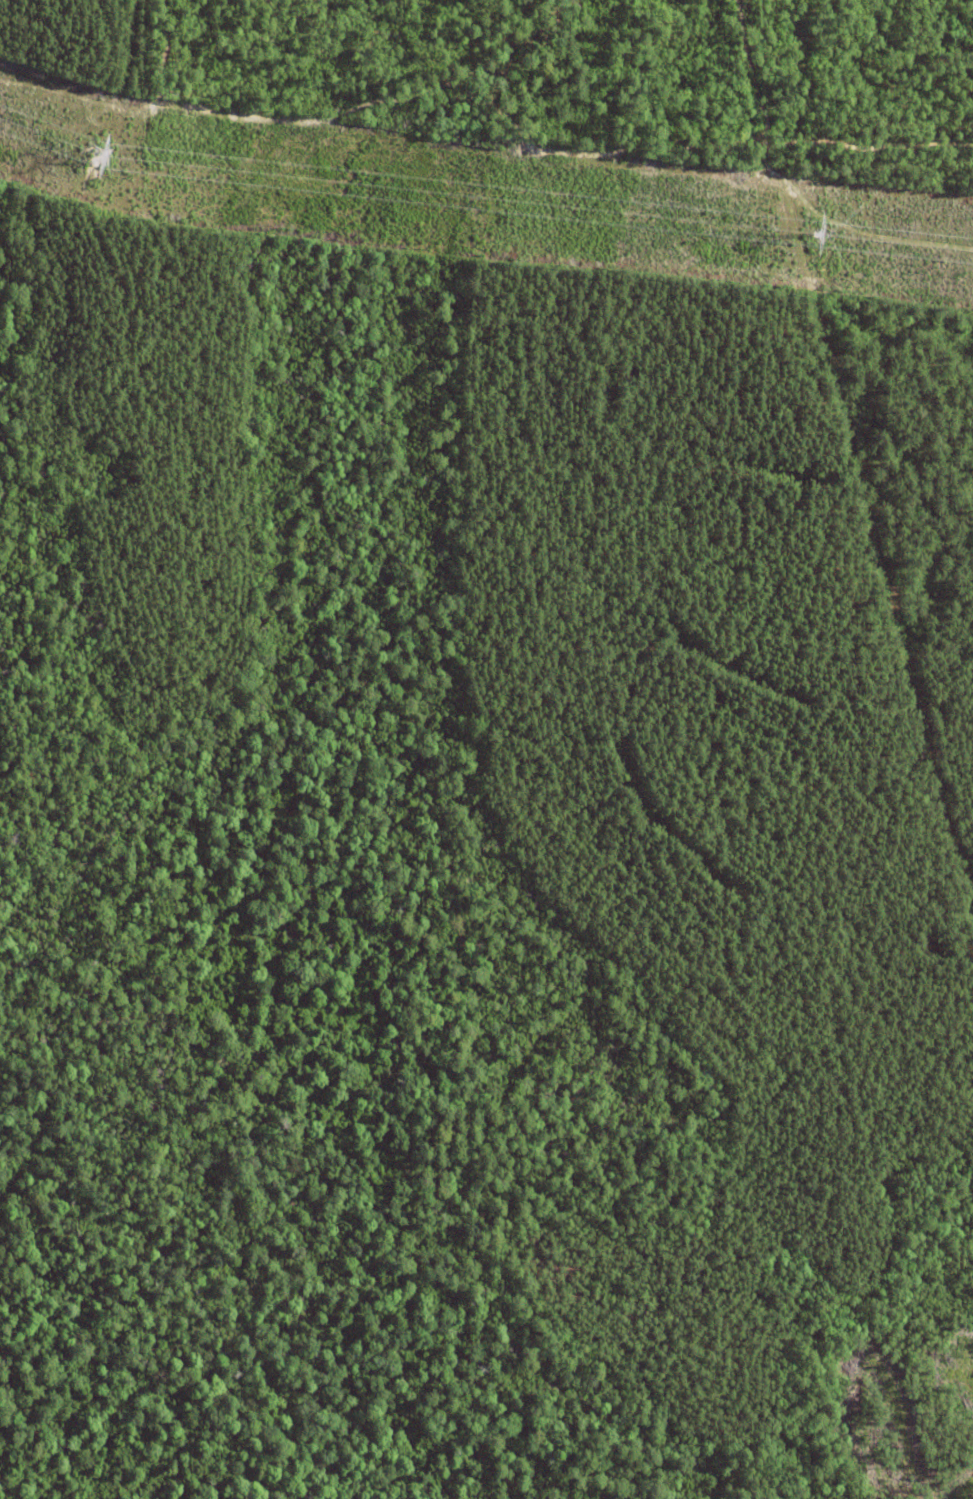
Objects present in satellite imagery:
power tower: (114, 159)
power tower: (817, 234)
power tower: (813, 235)
road: (850, 445)

